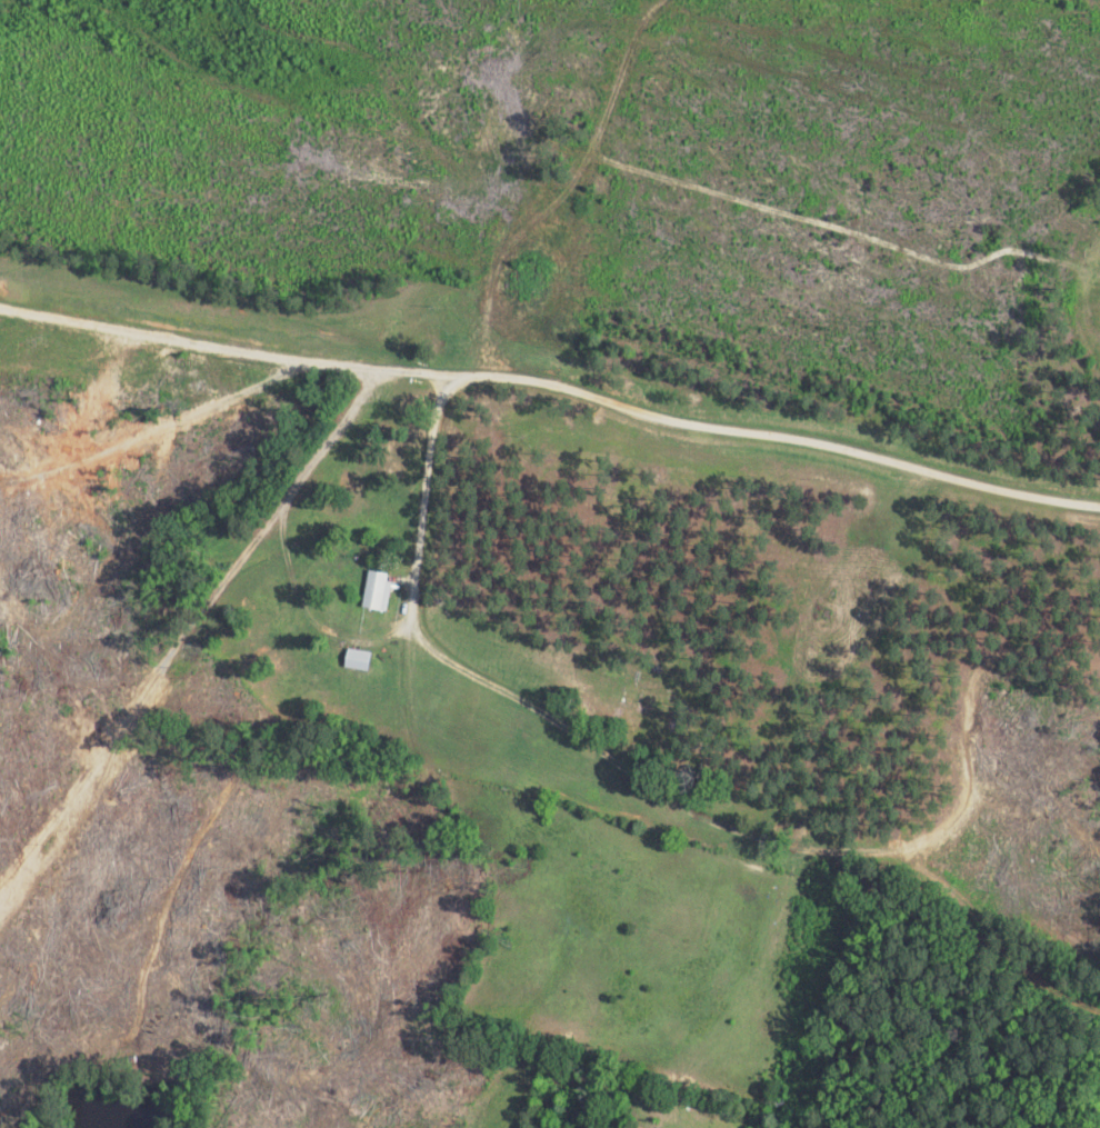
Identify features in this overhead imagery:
road: (553, 381)
road: (419, 495)
building: (379, 589)
building: (359, 658)

